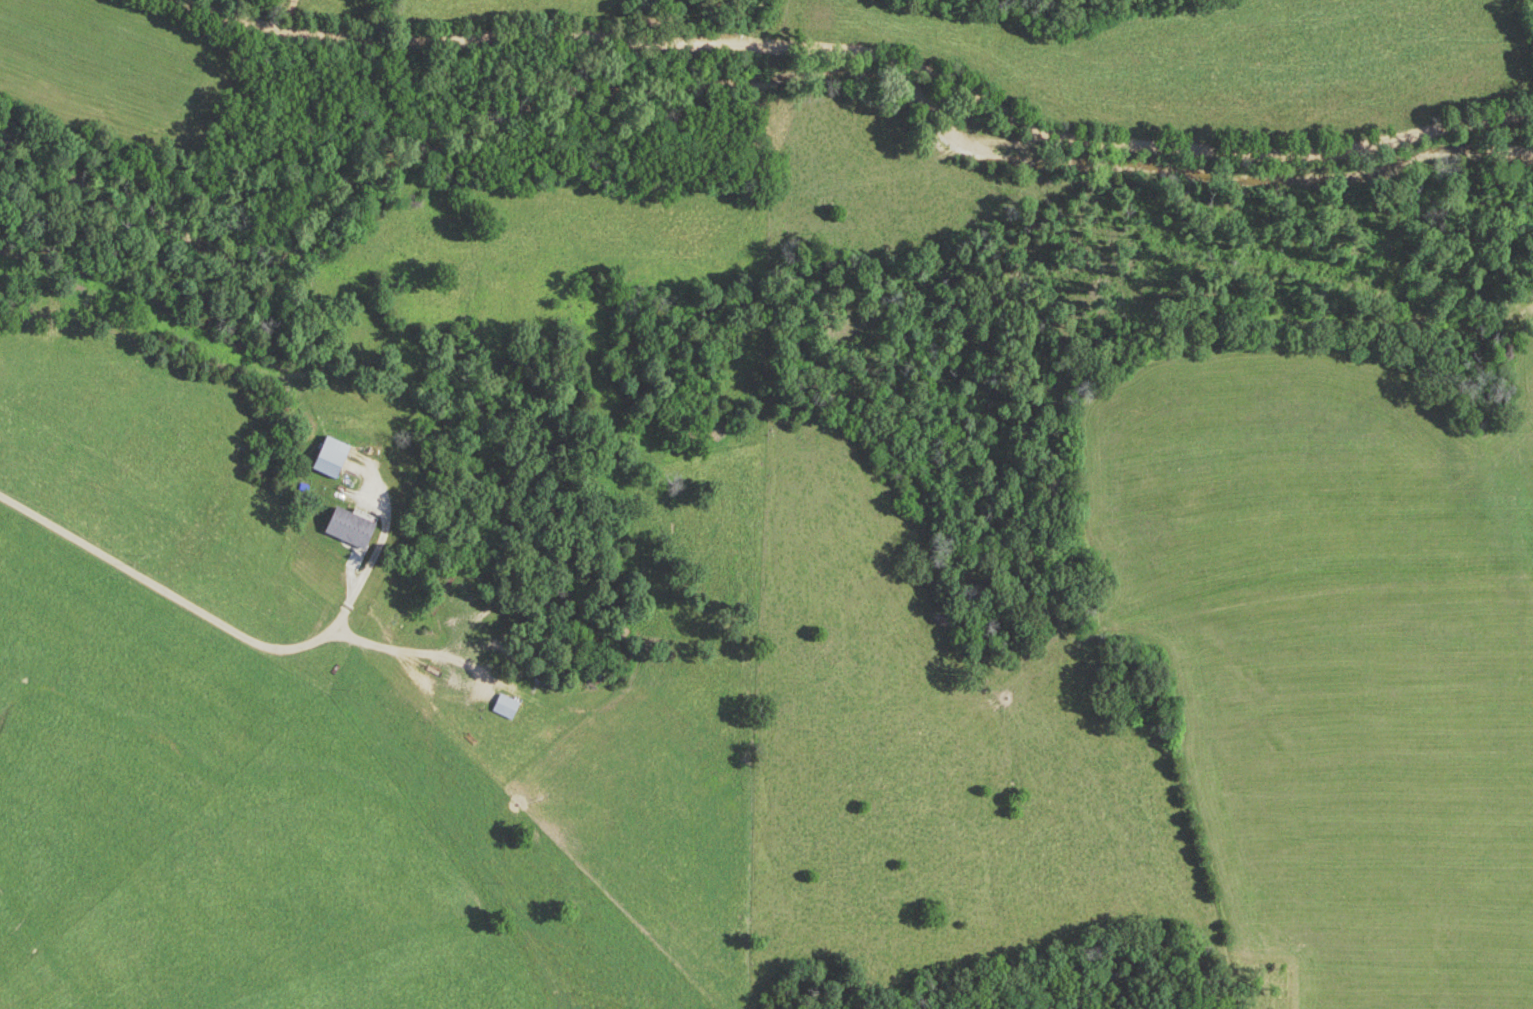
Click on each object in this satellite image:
road: (861, 56)
building: (334, 459)
building: (355, 529)
building: (358, 597)
road: (175, 599)
road: (324, 921)

